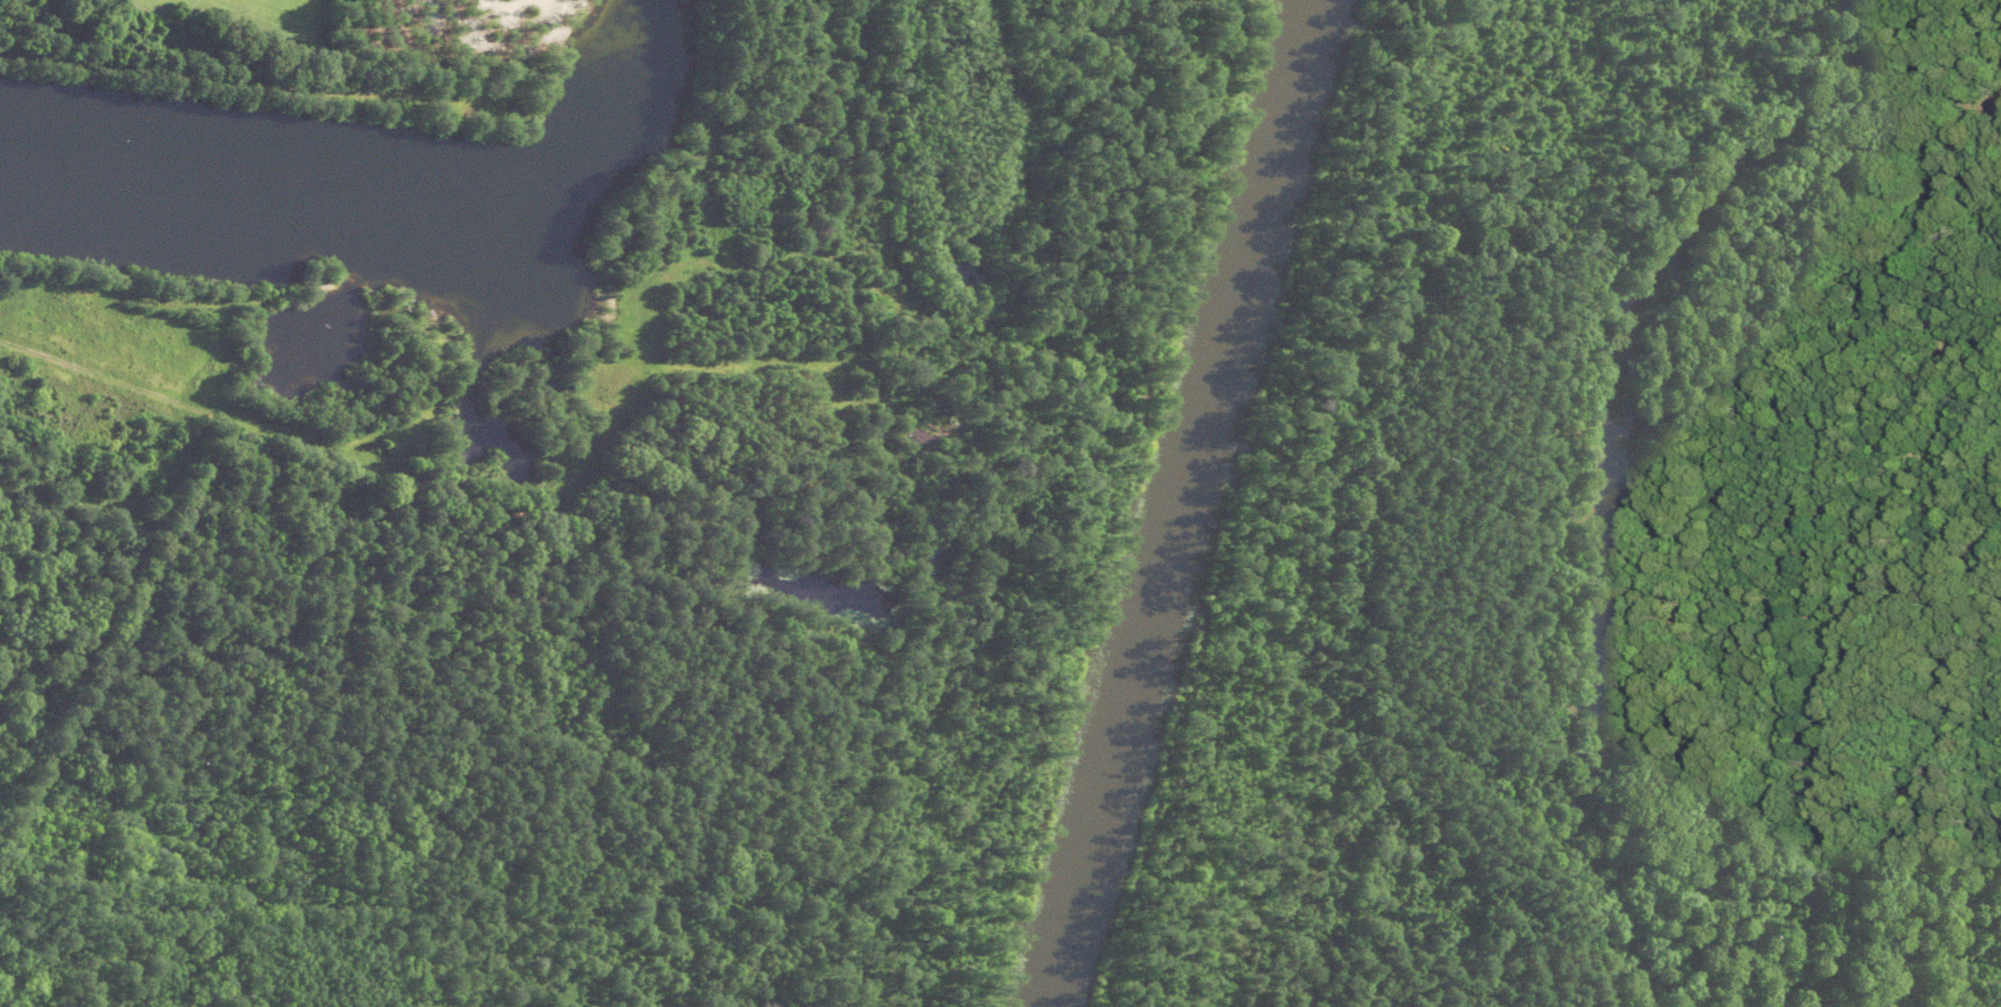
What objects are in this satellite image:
road: (624, 307)

